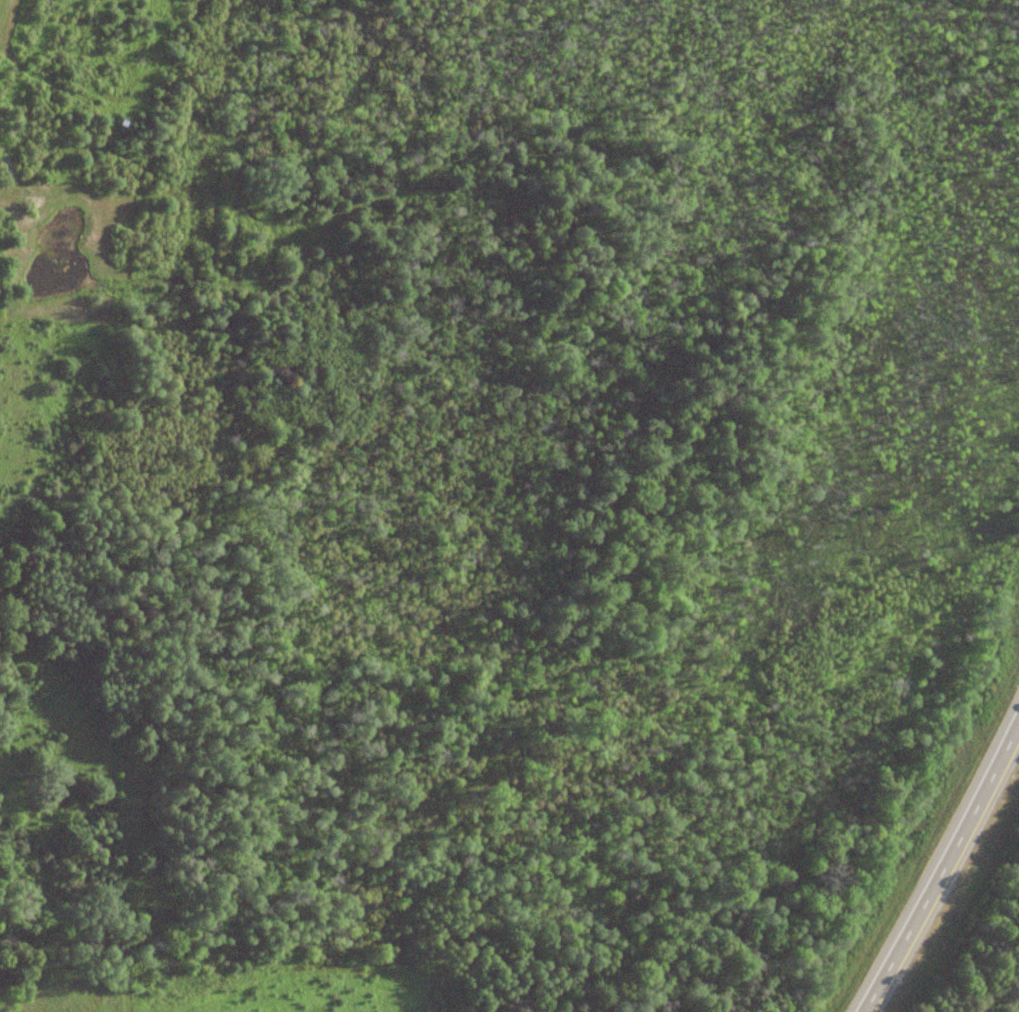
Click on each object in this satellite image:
road: (941, 865)

